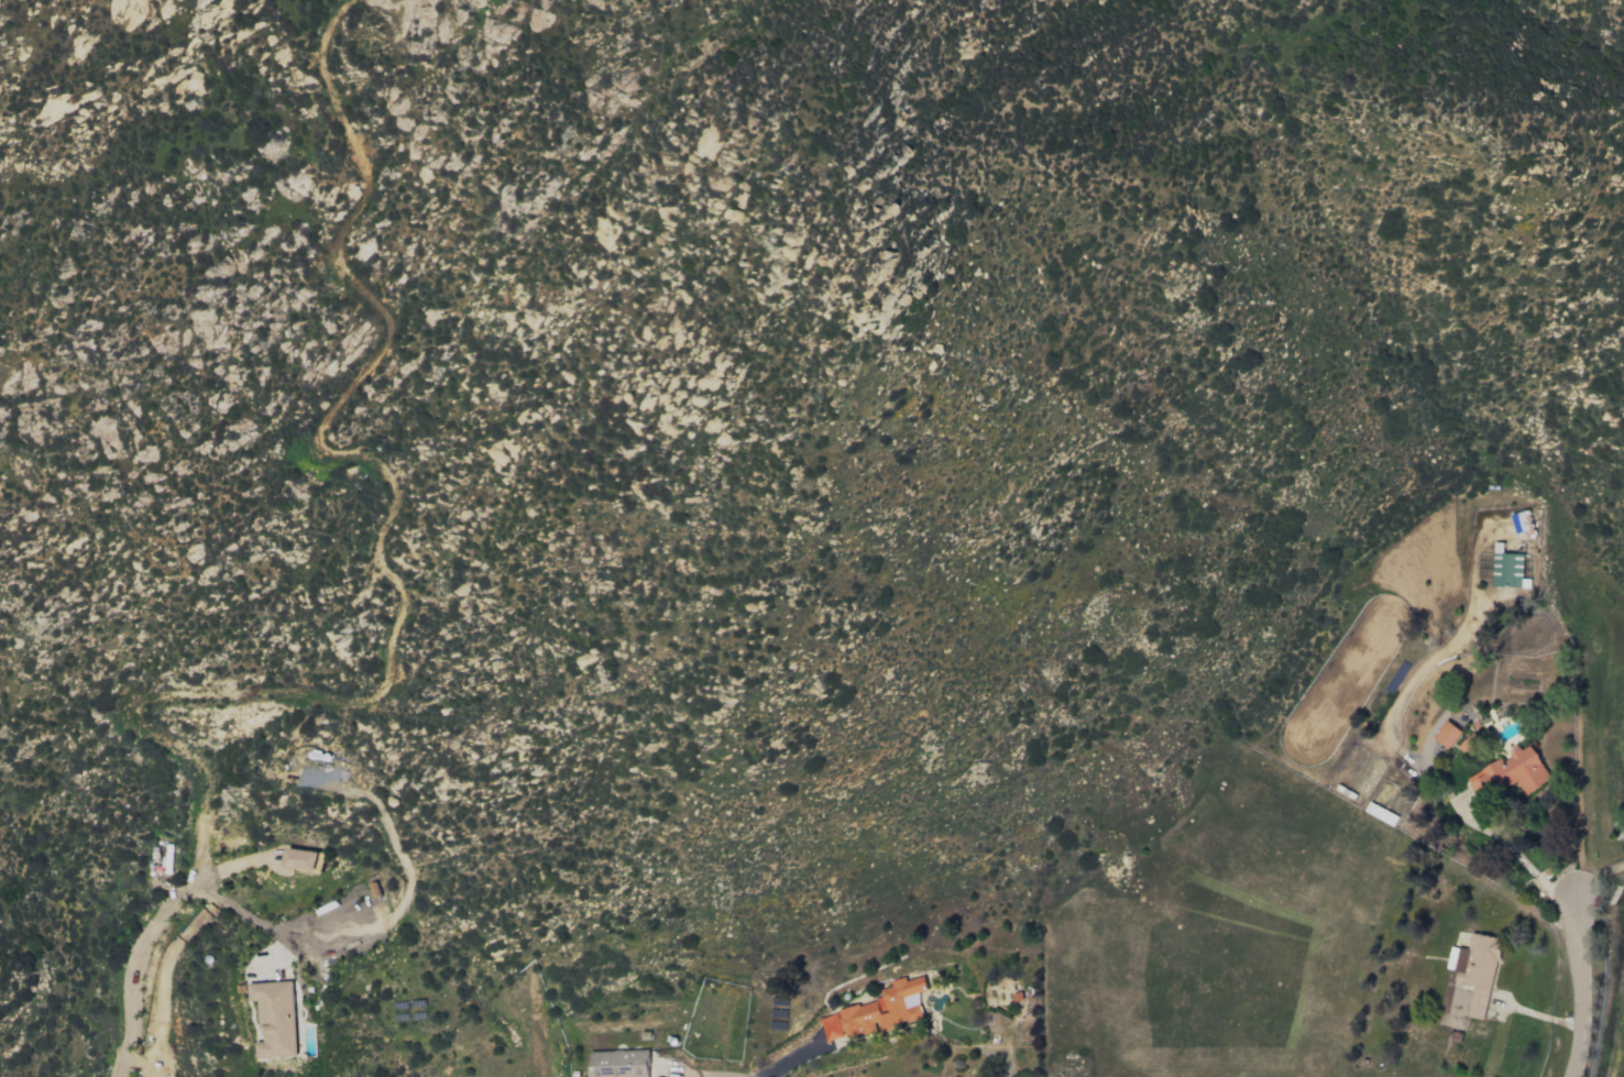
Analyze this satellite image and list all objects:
building: (1507, 569)
building: (1446, 734)
building: (1469, 744)
building: (1510, 772)
road: (1517, 856)
building: (300, 858)
road: (241, 908)
road: (128, 975)
building: (1471, 976)
road: (1578, 988)
building: (877, 1011)
building: (275, 1018)
building: (618, 1063)
road: (700, 1074)

